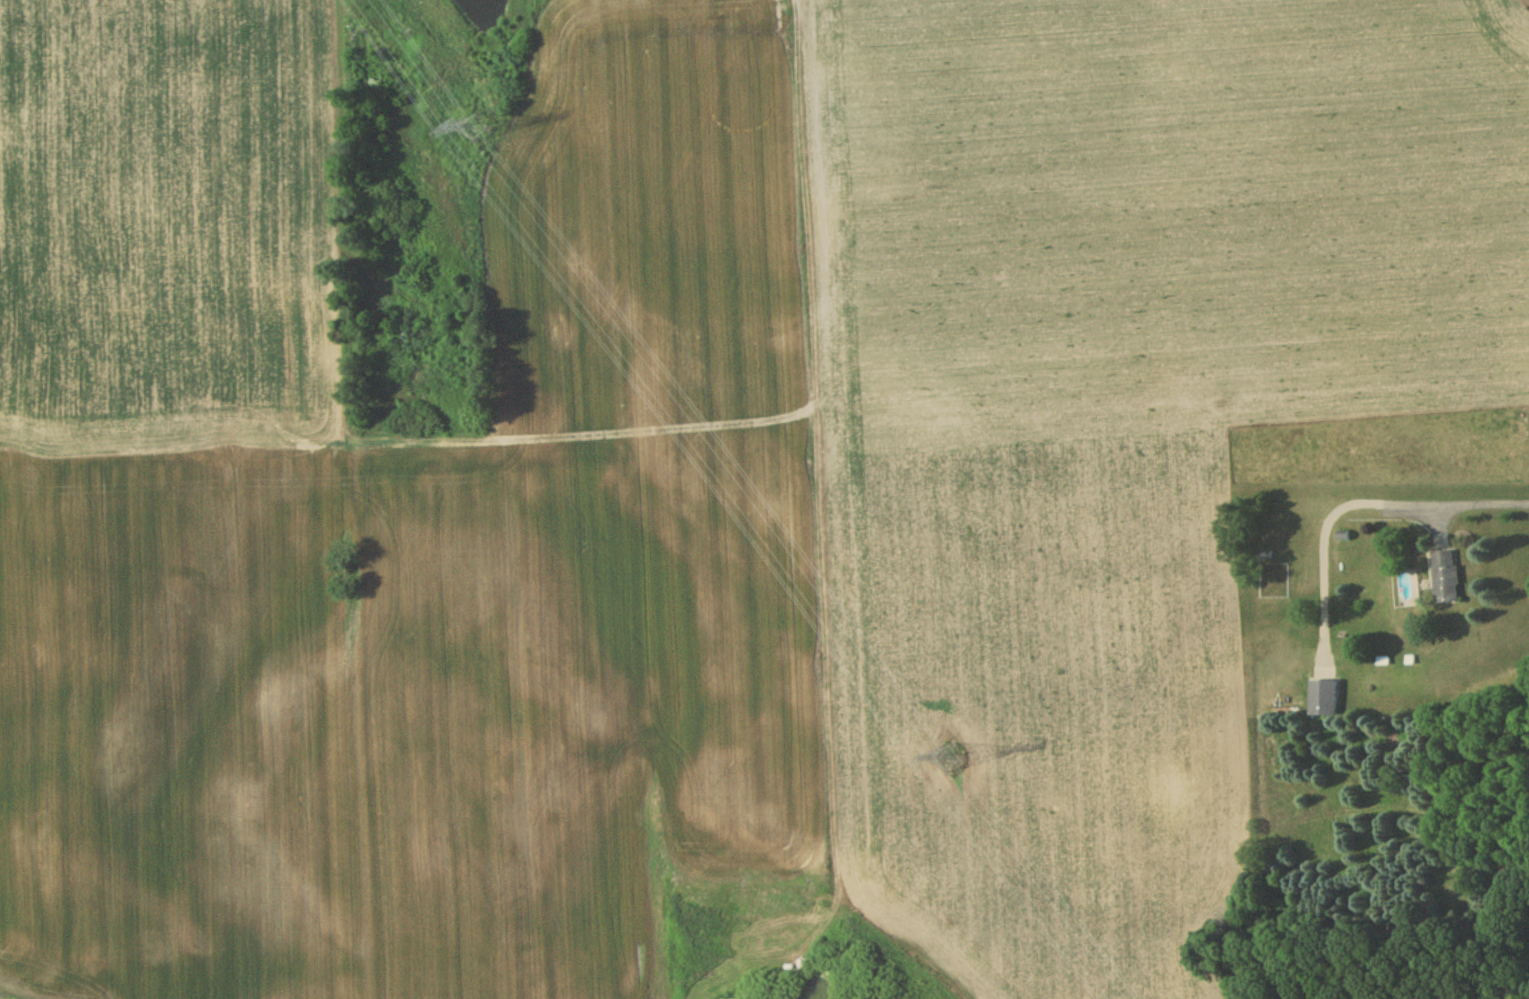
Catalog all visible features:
power tower: (474, 131)
road: (1486, 503)
building: (1447, 578)
building: (1322, 699)
power tower: (951, 760)

